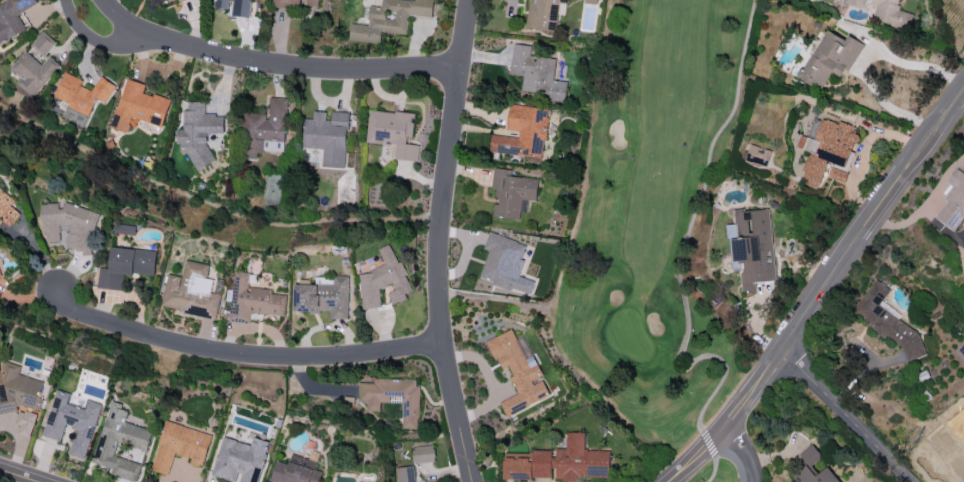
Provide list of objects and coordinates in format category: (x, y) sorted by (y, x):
building: (166, 0)
building: (180, 0)
building: (591, 1)
building: (298, 2)
building: (235, 7)
building: (886, 12)
building: (544, 13)
building: (12, 17)
building: (389, 18)
road: (106, 44)
building: (830, 58)
road: (866, 60)
road: (276, 63)
building: (35, 64)
building: (536, 73)
building: (81, 92)
building: (139, 105)
building: (265, 129)
building: (198, 131)
building: (524, 131)
building: (393, 136)
building: (827, 150)
road: (917, 151)
building: (757, 154)
building: (511, 193)
building: (953, 202)
building: (7, 208)
road: (925, 208)
building: (68, 224)
building: (125, 228)
park: (658, 234)
road: (683, 238)
road: (439, 241)
building: (751, 245)
building: (505, 263)
building: (125, 266)
building: (383, 280)
building: (190, 291)
building: (323, 296)
building: (253, 299)
building: (886, 319)
road: (776, 354)
road: (242, 356)
building: (518, 370)
building: (18, 397)
building: (392, 397)
road: (844, 414)
building: (71, 422)
road: (961, 436)
building: (120, 442)
road: (709, 443)
building: (180, 446)
building: (424, 454)
road: (744, 455)
building: (239, 459)
building: (581, 460)
building: (527, 465)
building: (295, 470)
road: (714, 471)
building: (405, 474)
road: (20, 475)

